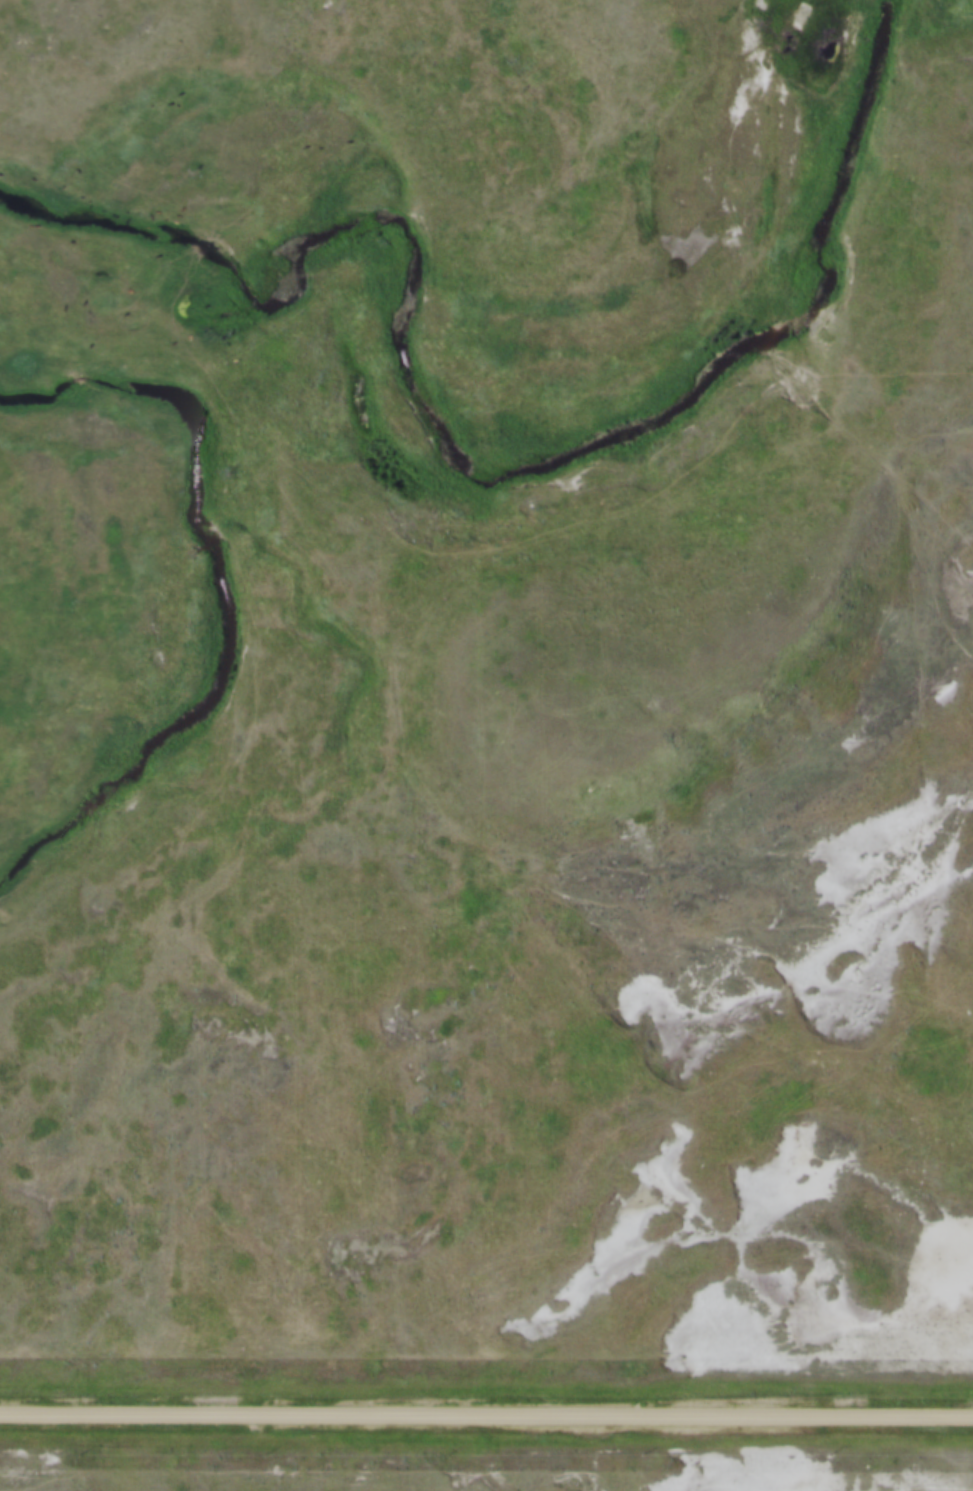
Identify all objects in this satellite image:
road: (486, 1410)

